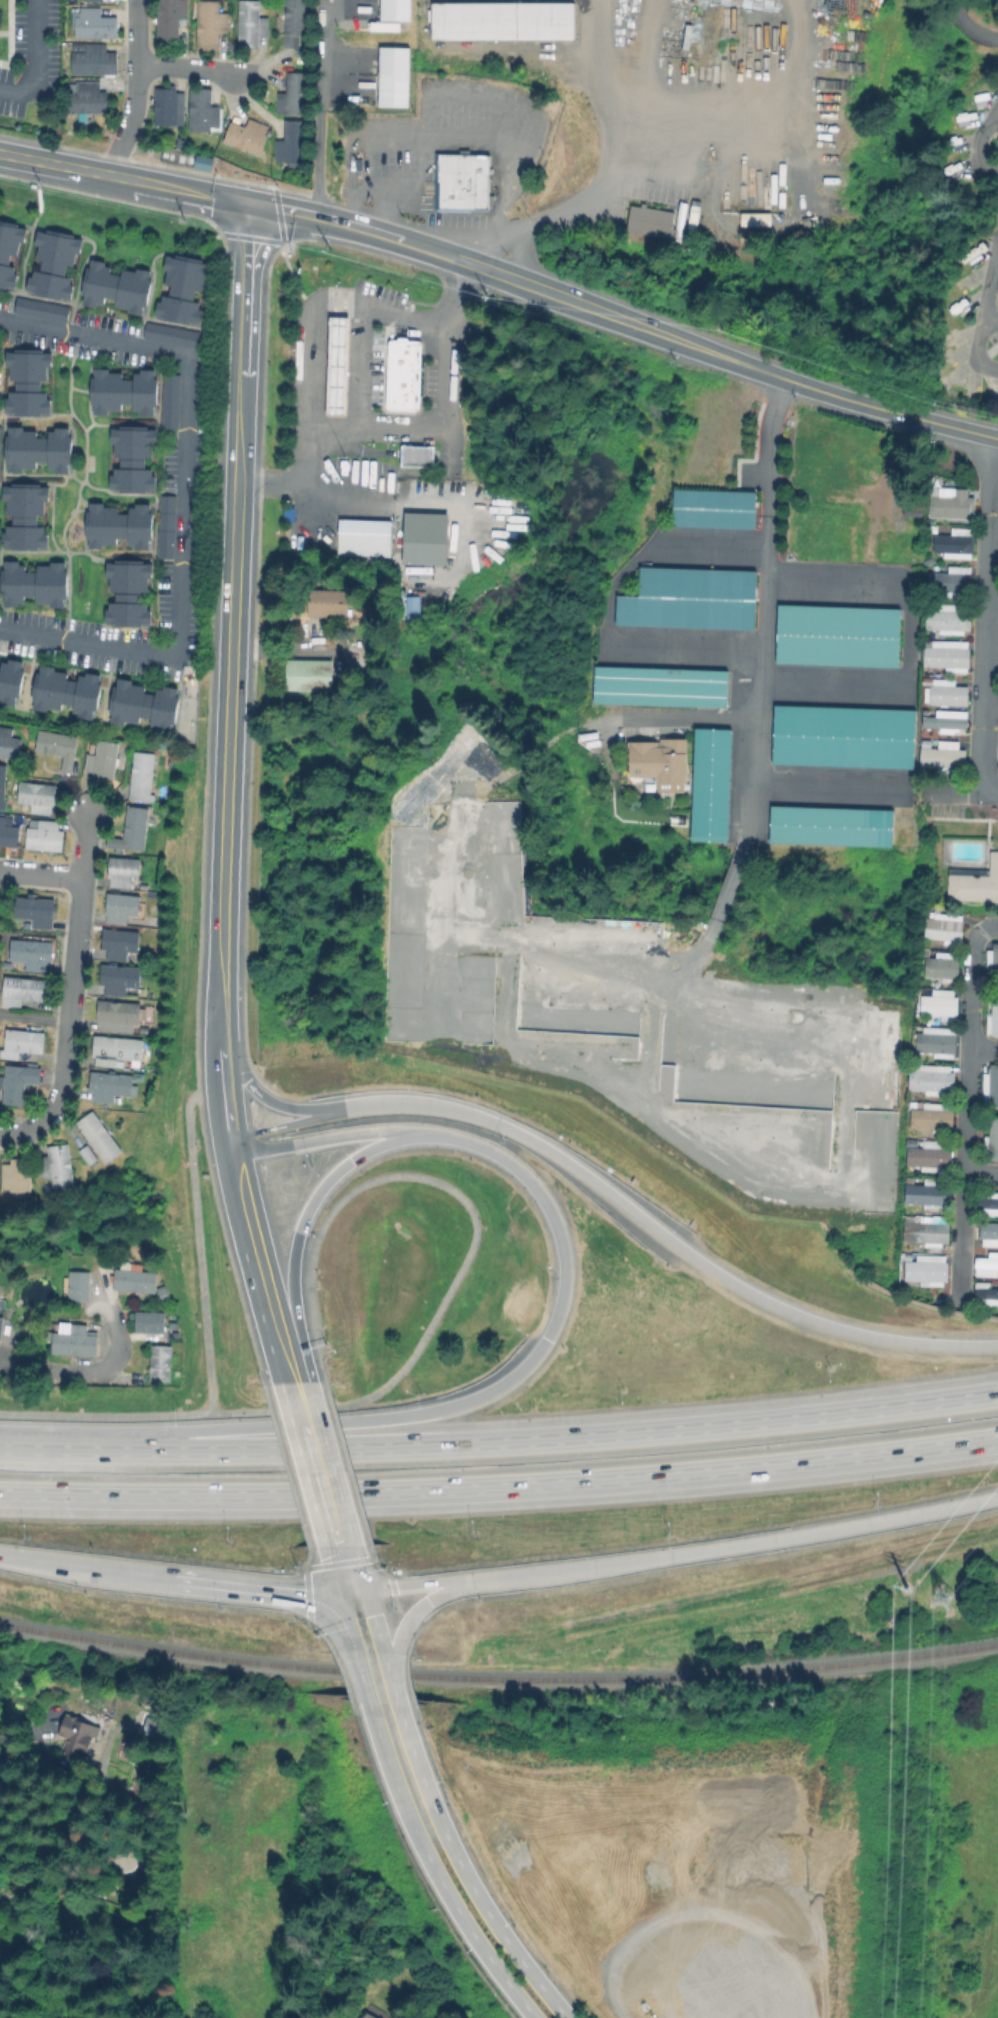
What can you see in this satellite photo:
building: (92, 0)
building: (393, 9)
building: (170, 19)
building: (294, 22)
building: (96, 23)
building: (210, 23)
building: (251, 23)
building: (504, 24)
building: (382, 25)
road: (967, 26)
road: (599, 48)
building: (300, 54)
parking lot: (31, 55)
road: (34, 59)
building: (95, 59)
road: (192, 67)
building: (392, 75)
road: (136, 90)
road: (452, 91)
building: (295, 93)
building: (88, 99)
building: (167, 104)
road: (321, 108)
building: (202, 110)
road: (747, 115)
road: (994, 120)
road: (609, 134)
building: (247, 135)
building: (292, 141)
building: (997, 141)
road: (976, 145)
road: (782, 158)
building: (201, 162)
building: (356, 163)
road: (123, 178)
building: (461, 180)
road: (394, 197)
traffic signals: (248, 201)
road: (537, 218)
building: (691, 218)
building: (647, 219)
building: (678, 219)
road: (355, 226)
road: (234, 236)
road: (28, 242)
building: (10, 253)
building: (55, 264)
road: (995, 270)
building: (114, 286)
building: (180, 290)
road: (211, 294)
building: (47, 311)
road: (985, 311)
road: (991, 319)
road: (623, 320)
road: (310, 325)
building: (169, 334)
road: (243, 342)
building: (335, 365)
gas station: (335, 365)
road: (449, 368)
building: (400, 373)
building: (29, 382)
building: (122, 391)
building: (169, 400)
road: (891, 412)
road: (379, 428)
building: (39, 450)
building: (0, 451)
building: (415, 455)
building: (130, 459)
building: (806, 469)
road: (273, 483)
building: (930, 490)
road: (184, 499)
building: (165, 502)
building: (949, 505)
road: (343, 506)
building: (711, 508)
building: (27, 517)
road: (463, 518)
building: (119, 527)
building: (164, 534)
building: (364, 538)
building: (423, 538)
building: (950, 542)
building: (946, 580)
building: (36, 585)
building: (130, 595)
building: (688, 598)
building: (409, 601)
building: (328, 604)
road: (607, 608)
building: (945, 620)
road: (986, 625)
building: (835, 635)
building: (943, 655)
building: (309, 676)
building: (923, 680)
building: (12, 683)
building: (658, 686)
building: (68, 693)
building: (945, 696)
building: (997, 701)
building: (144, 706)
road: (688, 718)
building: (941, 722)
building: (841, 736)
building: (922, 743)
building: (9, 744)
building: (54, 750)
building: (941, 760)
road: (227, 761)
building: (657, 764)
building: (91, 765)
building: (142, 777)
building: (708, 784)
building: (3, 787)
building: (41, 810)
building: (829, 825)
building: (132, 831)
building: (9, 836)
building: (46, 838)
road: (732, 867)
road: (40, 873)
building: (123, 873)
building: (975, 883)
building: (122, 908)
building: (36, 912)
building: (941, 929)
building: (119, 944)
building: (32, 954)
building: (994, 959)
building: (939, 967)
building: (120, 980)
road: (70, 990)
building: (23, 992)
building: (936, 1006)
road: (33, 1017)
building: (118, 1017)
building: (992, 1018)
building: (934, 1041)
building: (23, 1045)
road: (983, 1050)
building: (117, 1053)
road: (223, 1063)
building: (930, 1078)
building: (19, 1085)
building: (992, 1085)
building: (110, 1087)
road: (263, 1098)
road: (966, 1108)
road: (228, 1112)
building: (928, 1116)
road: (283, 1125)
building: (100, 1138)
road: (334, 1138)
building: (992, 1138)
building: (927, 1155)
building: (89, 1156)
building: (58, 1168)
road: (981, 1174)
building: (18, 1177)
building: (924, 1195)
building: (987, 1204)
road: (475, 1228)
building: (927, 1233)
building: (987, 1233)
road: (660, 1234)
road: (197, 1236)
road: (261, 1259)
building: (985, 1265)
building: (925, 1269)
building: (136, 1283)
building: (79, 1288)
building: (985, 1294)
road: (559, 1302)
building: (150, 1324)
building: (1, 1326)
building: (177, 1337)
building: (76, 1344)
building: (19, 1348)
building: (161, 1366)
road: (85, 1372)
road: (106, 1417)
road: (500, 1443)
road: (318, 1471)
road: (500, 1487)
road: (676, 1555)
road: (86, 1567)
road: (347, 1578)
power tower: (907, 1587)
road: (261, 1589)
traffic signals: (351, 1592)
power tower: (941, 1599)
road: (422, 1606)
road: (373, 1618)
road: (346, 1623)
road: (386, 1664)
road: (393, 1665)
road: (362, 1679)
railway: (498, 1679)
road: (393, 1689)
building: (147, 1722)
building: (78, 1742)
road: (434, 1870)
road: (463, 1870)
building: (368, 2015)

